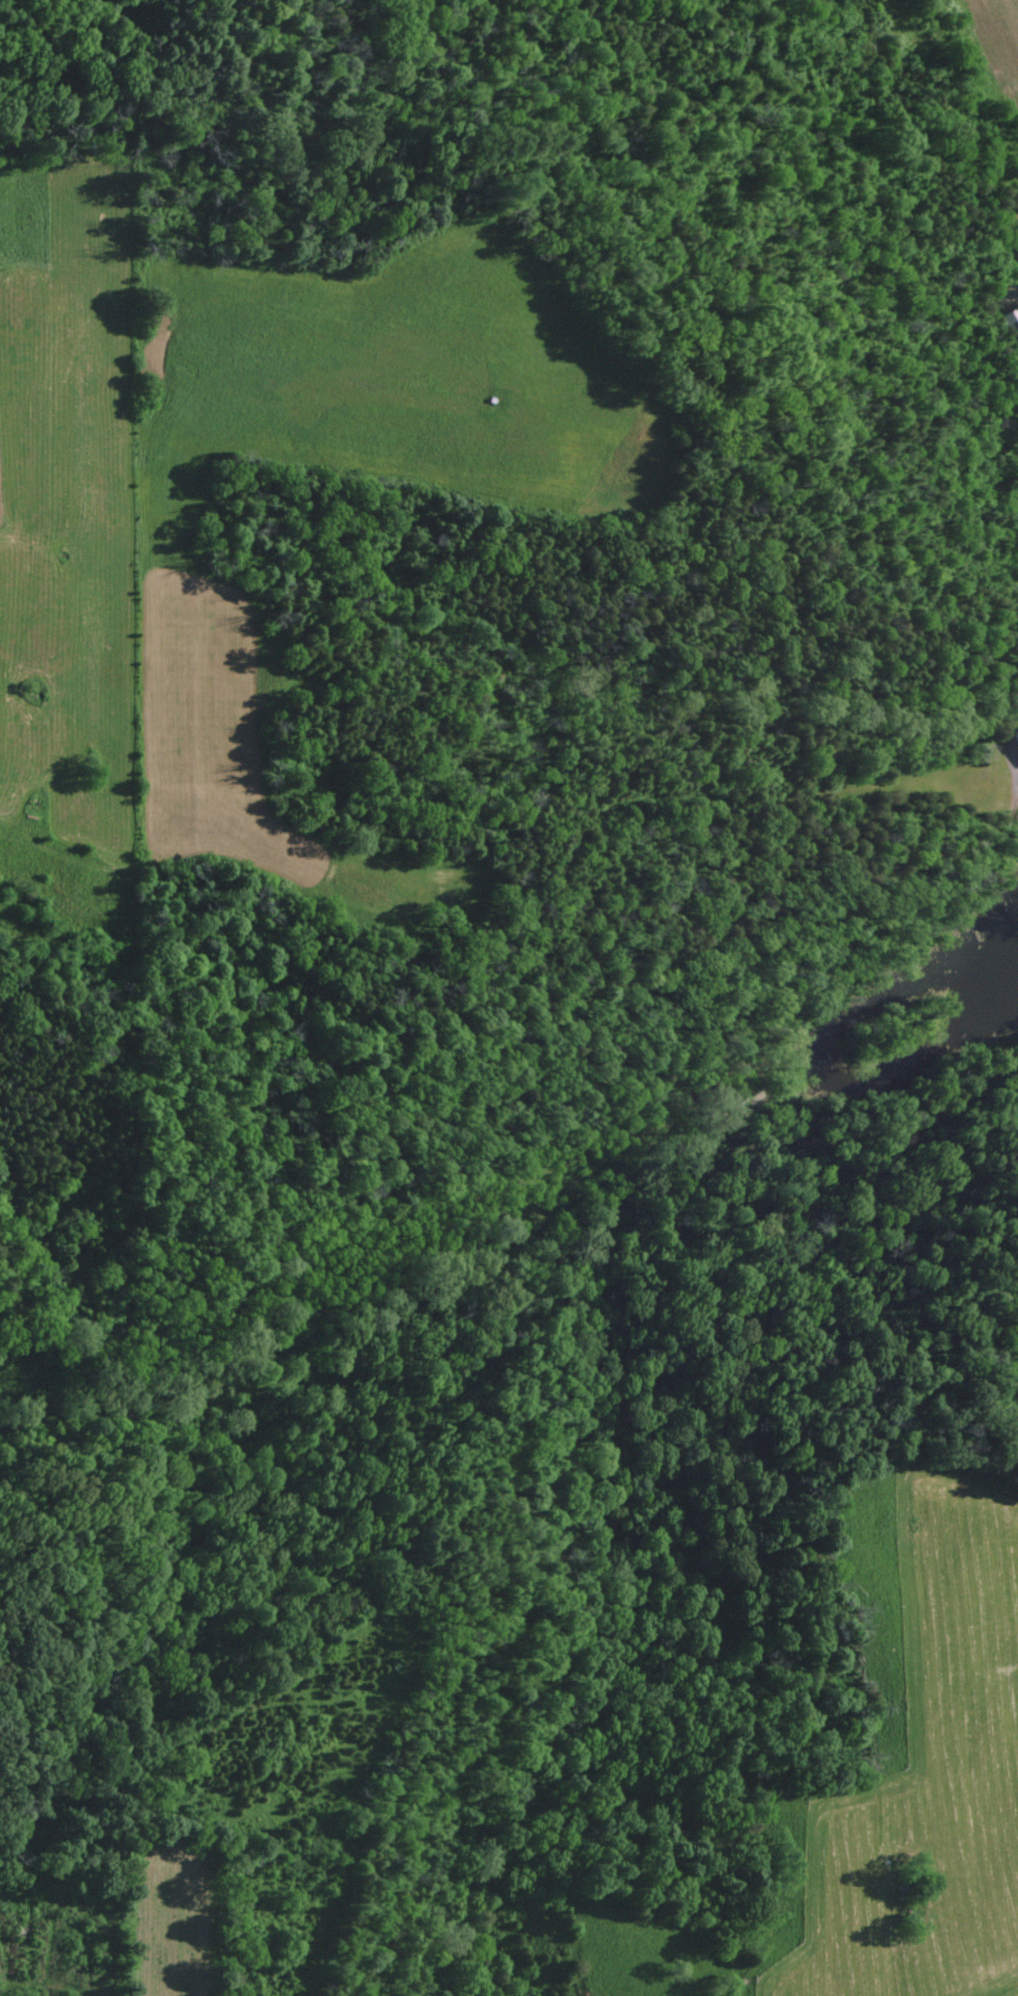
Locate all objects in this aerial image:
building: (1010, 325)
building: (1016, 739)

